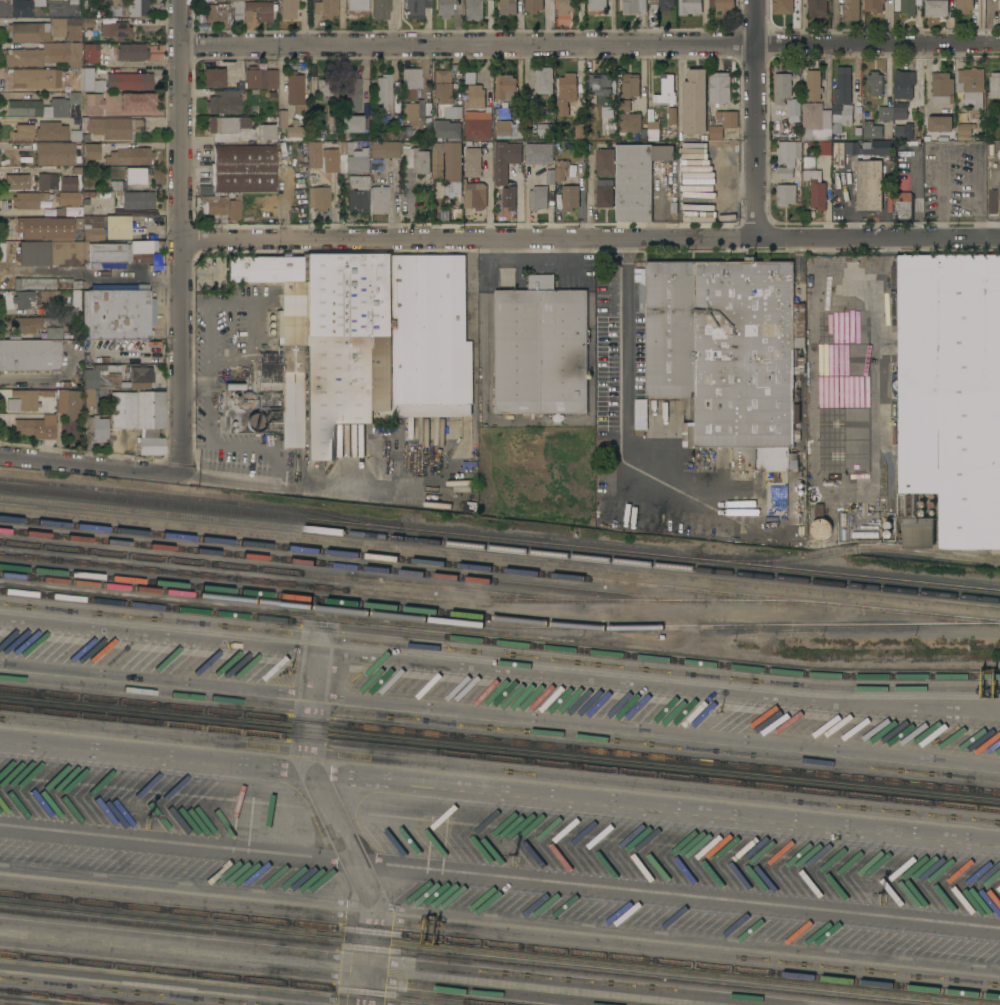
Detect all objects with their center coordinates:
building: (221, 0)
building: (37, 2)
building: (999, 4)
building: (356, 5)
building: (534, 5)
building: (666, 5)
building: (723, 5)
building: (873, 5)
building: (964, 5)
building: (566, 6)
building: (597, 6)
building: (633, 6)
building: (782, 6)
building: (134, 7)
building: (415, 7)
building: (508, 7)
building: (689, 7)
building: (909, 7)
building: (937, 7)
building: (21, 8)
building: (286, 8)
building: (326, 8)
building: (443, 8)
building: (817, 8)
building: (380, 9)
building: (850, 9)
building: (259, 10)
building: (473, 10)
building: (238, 12)
building: (217, 14)
building: (86, 25)
building: (116, 29)
building: (44, 30)
road: (878, 43)
road: (469, 45)
building: (132, 51)
building: (89, 53)
building: (37, 54)
building: (75, 54)
building: (213, 76)
building: (471, 76)
building: (36, 78)
building: (260, 78)
building: (543, 79)
building: (90, 80)
building: (129, 81)
building: (411, 82)
building: (875, 83)
building: (904, 83)
building: (600, 84)
building: (444, 85)
building: (631, 85)
building: (814, 85)
building: (843, 85)
building: (971, 85)
building: (994, 85)
building: (507, 87)
building: (720, 87)
building: (782, 87)
building: (942, 87)
building: (294, 88)
building: (327, 88)
building: (384, 90)
building: (667, 91)
building: (352, 92)
building: (570, 92)
building: (475, 96)
building: (74, 97)
building: (135, 101)
building: (224, 101)
building: (695, 101)
building: (91, 104)
building: (624, 105)
building: (59, 106)
building: (25, 107)
building: (794, 109)
building: (410, 111)
building: (893, 111)
building: (454, 112)
building: (504, 112)
building: (842, 114)
road: (756, 119)
building: (282, 122)
building: (354, 122)
building: (629, 122)
building: (816, 122)
building: (228, 123)
building: (478, 123)
building: (723, 123)
building: (940, 123)
building: (114, 126)
building: (446, 128)
building: (509, 129)
building: (544, 129)
building: (872, 129)
building: (964, 129)
building: (23, 130)
building: (51, 130)
building: (653, 130)
building: (904, 131)
building: (267, 132)
building: (78, 136)
building: (825, 148)
building: (92, 150)
building: (383, 152)
building: (538, 152)
building: (56, 153)
building: (314, 154)
building: (130, 156)
building: (787, 157)
building: (351, 158)
building: (329, 159)
building: (416, 159)
building: (504, 160)
building: (472, 161)
building: (606, 161)
building: (809, 161)
building: (244, 167)
building: (448, 167)
building: (561, 170)
building: (860, 172)
building: (550, 176)
building: (131, 178)
building: (637, 179)
building: (47, 180)
building: (17, 181)
building: (68, 184)
building: (817, 189)
building: (358, 193)
building: (606, 193)
building: (475, 194)
building: (786, 194)
building: (321, 197)
building: (509, 197)
building: (537, 197)
building: (68, 198)
building: (380, 198)
building: (570, 198)
building: (28, 199)
building: (137, 199)
building: (903, 199)
building: (990, 200)
road: (588, 204)
building: (221, 205)
building: (61, 226)
building: (117, 226)
road: (182, 235)
road: (590, 238)
building: (116, 252)
building: (60, 253)
building: (35, 283)
building: (49, 297)
building: (23, 299)
building: (118, 311)
road: (255, 322)
building: (26, 324)
building: (228, 324)
building: (54, 333)
building: (430, 337)
building: (328, 340)
building: (541, 348)
building: (30, 354)
building: (727, 356)
road: (64, 374)
road: (207, 376)
building: (113, 379)
building: (234, 385)
building: (270, 385)
road: (620, 386)
building: (950, 396)
building: (23, 397)
building: (247, 400)
building: (73, 403)
building: (123, 409)
building: (641, 410)
building: (151, 420)
building: (255, 421)
building: (96, 426)
building: (35, 427)
building: (606, 438)
road: (89, 464)
road: (275, 484)
railway: (201, 499)
building: (613, 511)
building: (650, 515)
building: (821, 528)
building: (865, 534)
railway: (499, 540)
railway: (500, 549)
railway: (329, 565)
railway: (499, 570)
railway: (283, 571)
railway: (402, 595)
railway: (292, 597)
railway: (498, 625)
railway: (499, 641)
road: (378, 660)
road: (878, 708)
railway: (499, 740)
railway: (499, 758)
road: (332, 829)
railway: (499, 944)
railway: (457, 956)
railway: (247, 979)
railway: (71, 997)
railway: (12, 1003)

